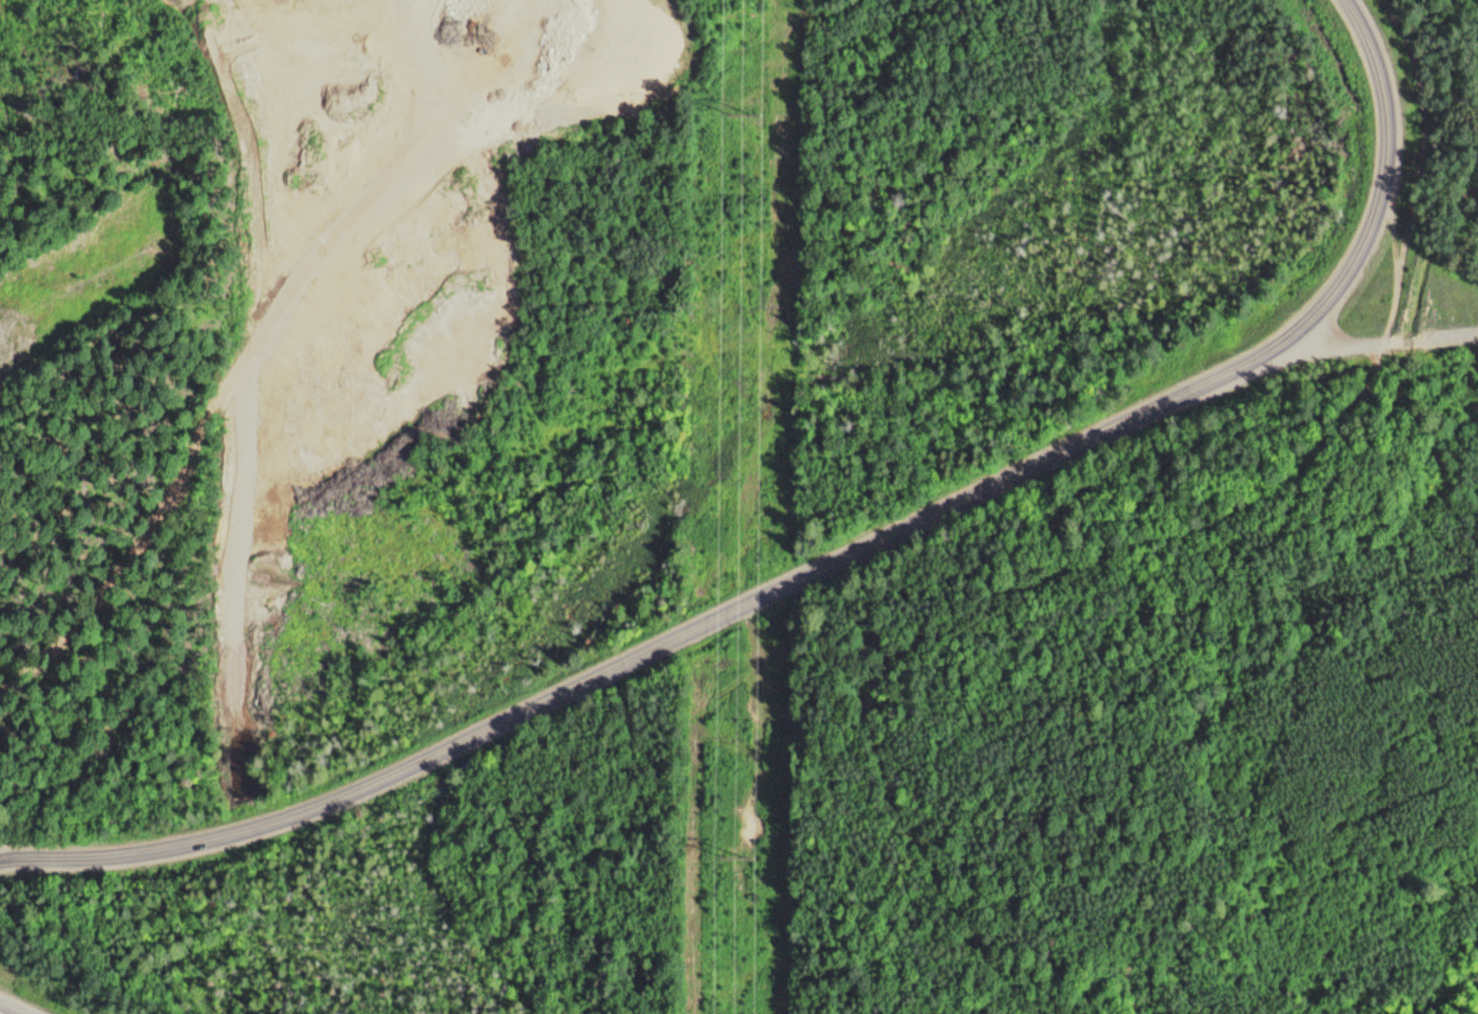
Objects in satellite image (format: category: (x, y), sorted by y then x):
power tower: (750, 115)
road: (1435, 333)
road: (1291, 357)
road: (826, 561)
power tower: (745, 857)
road: (14, 1007)

